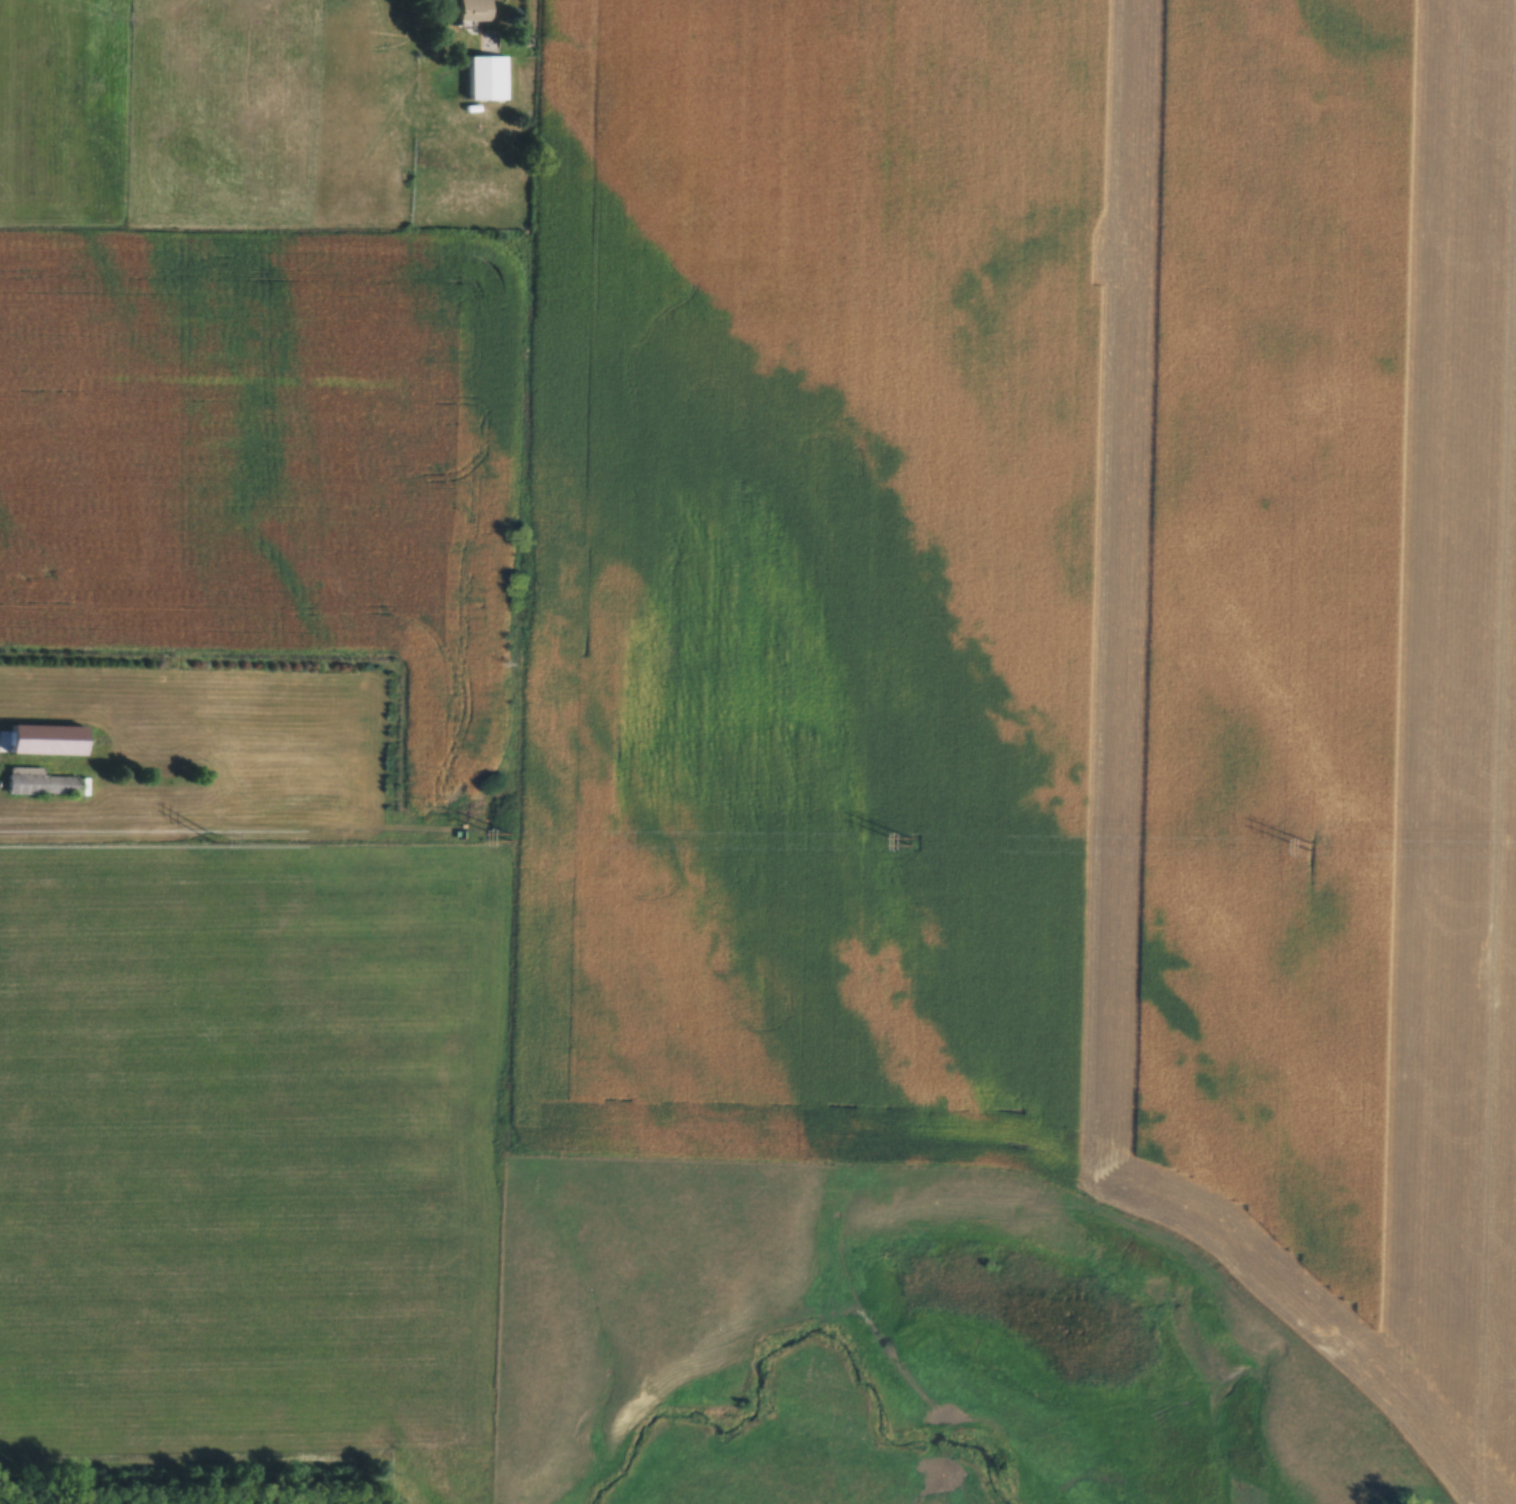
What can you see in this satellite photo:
power tower: (211, 839)
power tower: (512, 839)
power tower: (912, 842)
power tower: (1311, 847)

